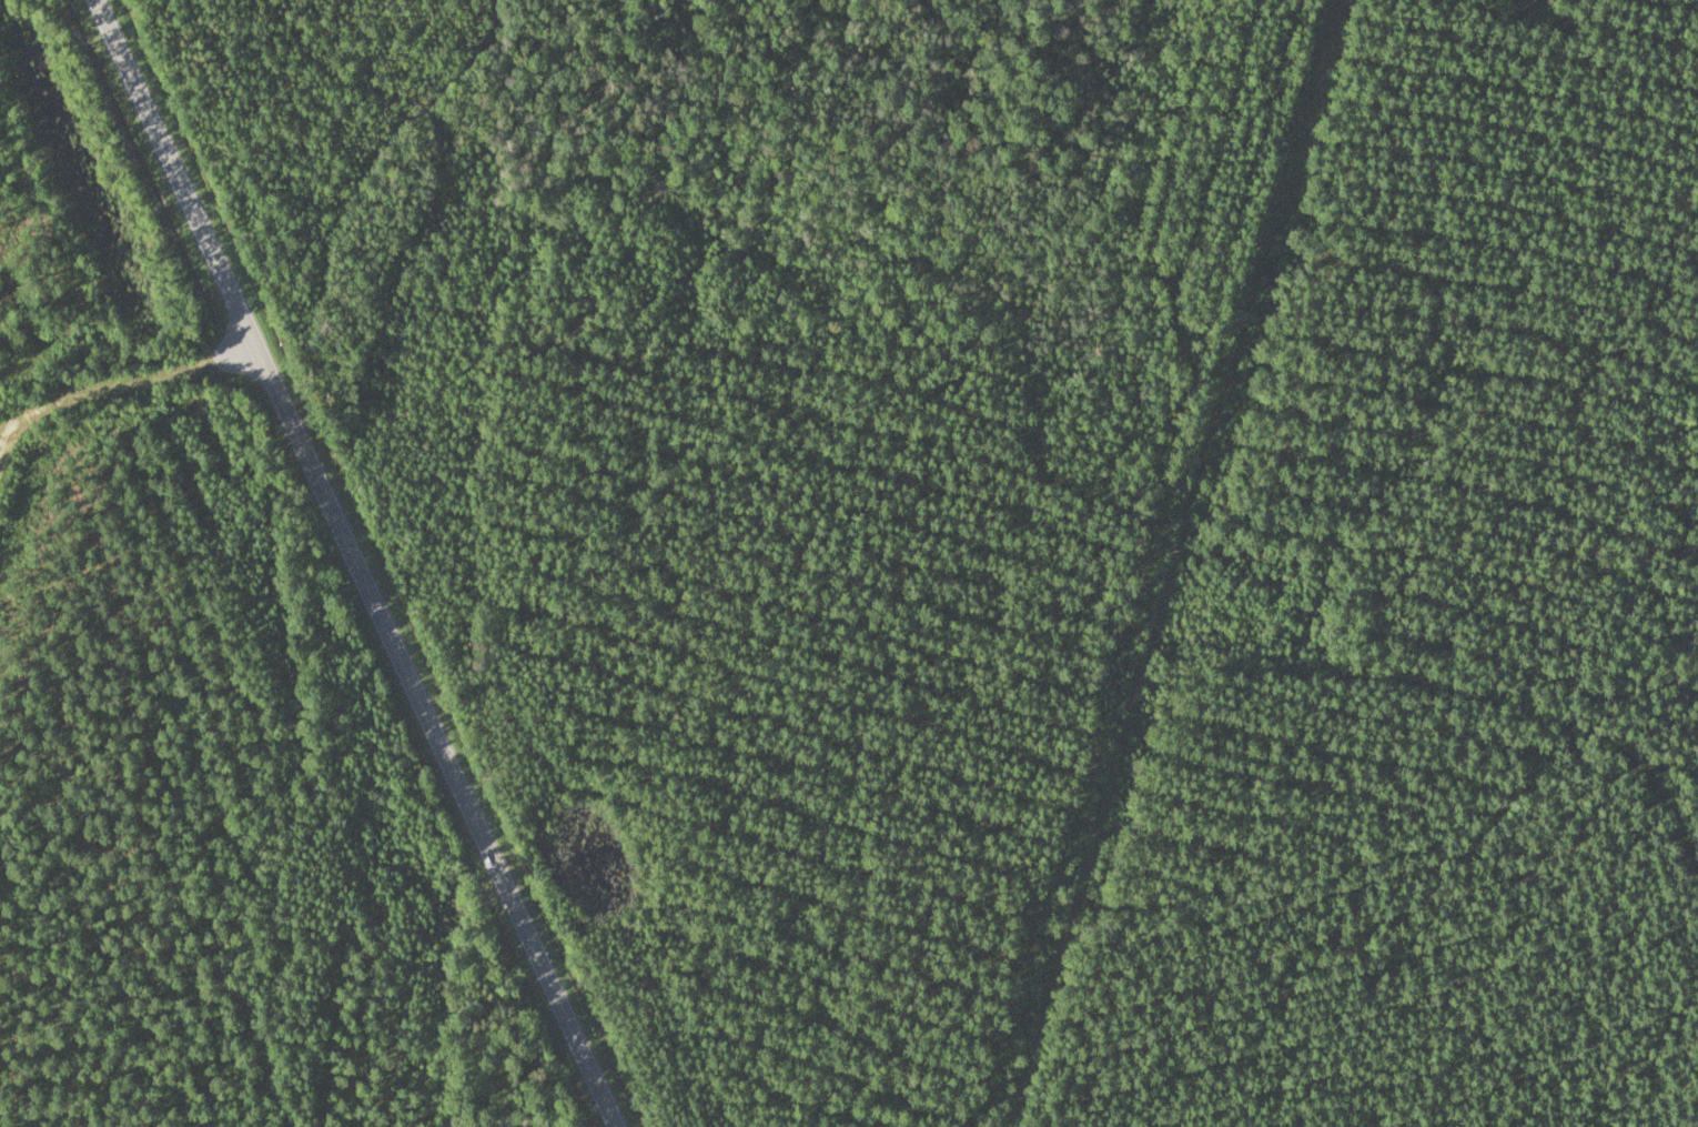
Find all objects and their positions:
road: (117, 384)
road: (351, 565)

